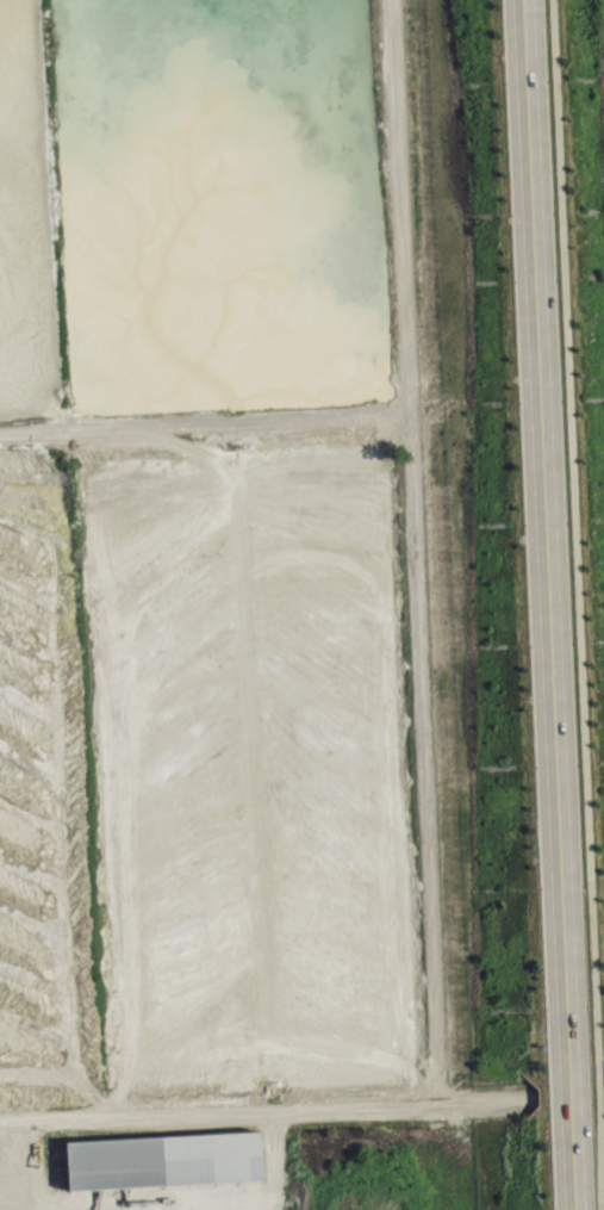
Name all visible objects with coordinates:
road: (204, 422)
road: (415, 550)
road: (573, 567)
road: (548, 604)
road: (268, 1107)
building: (167, 1169)
road: (600, 1171)

